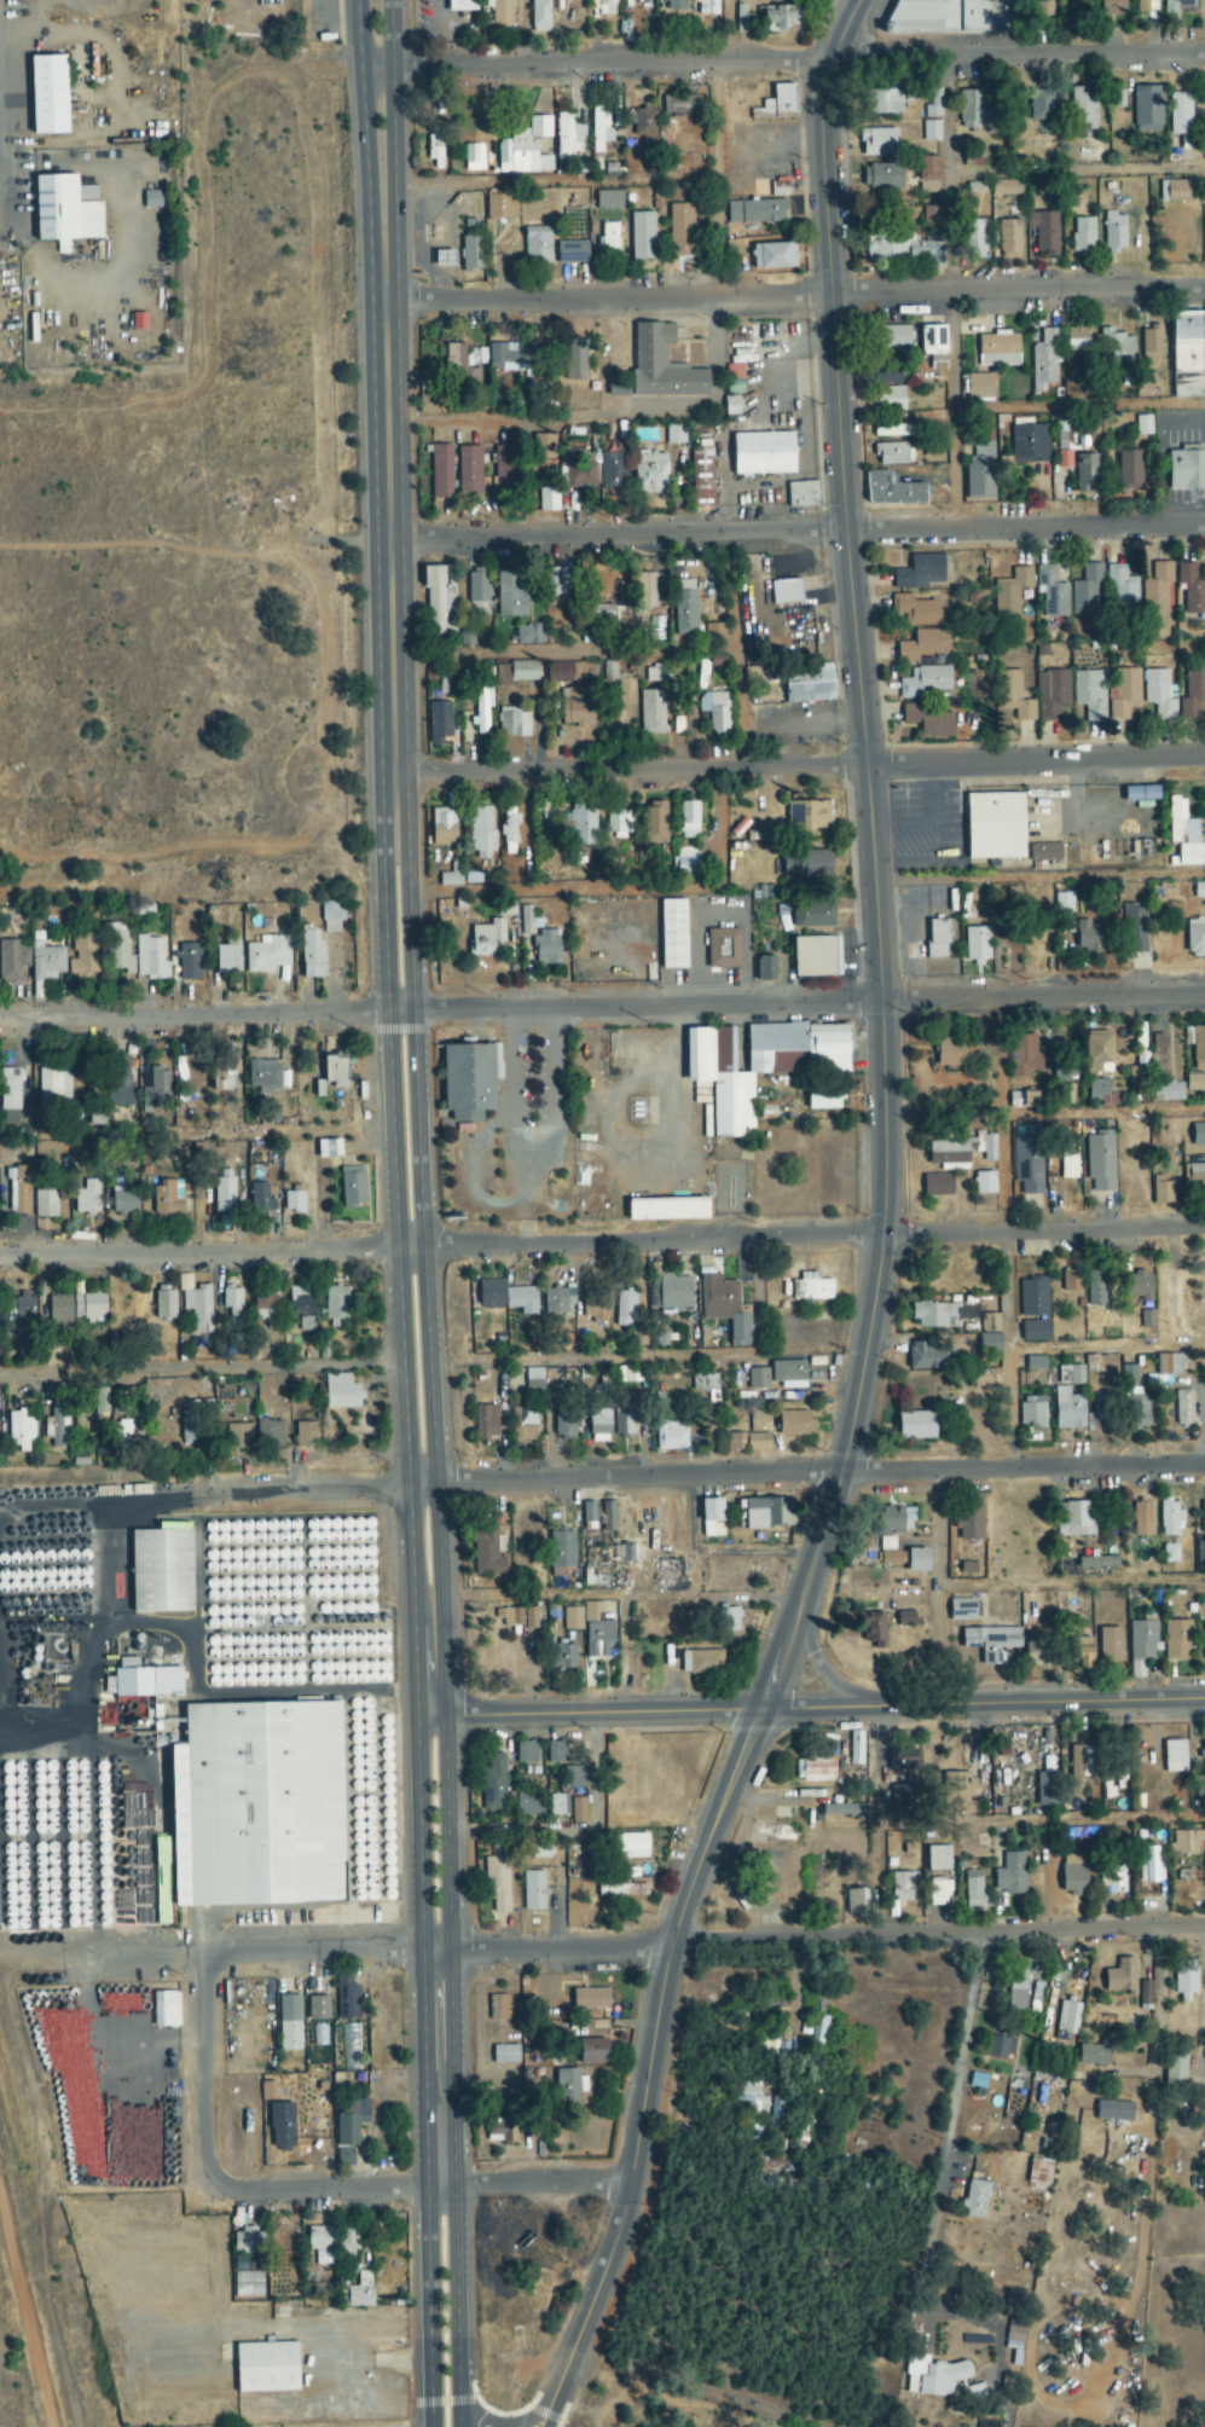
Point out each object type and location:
building: (742, 0)
building: (462, 5)
building: (676, 5)
building: (1146, 6)
building: (606, 7)
building: (706, 7)
building: (1112, 7)
building: (1180, 7)
building: (1043, 8)
building: (499, 12)
building: (540, 16)
building: (954, 16)
building: (782, 18)
road: (729, 30)
road: (783, 62)
building: (48, 95)
building: (780, 102)
building: (887, 103)
building: (933, 104)
building: (678, 105)
building: (1041, 105)
building: (1147, 109)
building: (973, 110)
building: (1083, 111)
building: (1181, 120)
building: (643, 131)
building: (931, 132)
building: (569, 138)
building: (879, 143)
building: (526, 149)
road: (394, 151)
road: (365, 152)
building: (473, 158)
road: (1077, 170)
building: (928, 175)
building: (882, 178)
road: (716, 179)
road: (555, 180)
building: (1007, 189)
building: (1177, 192)
building: (86, 195)
building: (155, 199)
building: (608, 201)
building: (500, 207)
building: (757, 213)
building: (64, 214)
building: (931, 216)
building: (679, 231)
building: (1114, 232)
building: (1044, 233)
building: (1083, 236)
building: (642, 237)
building: (974, 239)
building: (1009, 239)
building: (608, 241)
building: (537, 248)
building: (903, 249)
building: (572, 253)
building: (471, 254)
building: (774, 257)
road: (951, 292)
road: (795, 296)
building: (139, 323)
building: (893, 338)
building: (933, 341)
building: (1081, 341)
building: (1152, 344)
building: (1118, 348)
building: (998, 349)
building: (479, 352)
building: (457, 355)
building: (1188, 355)
building: (512, 359)
building: (1045, 360)
building: (577, 361)
building: (661, 366)
road: (834, 380)
building: (979, 388)
building: (891, 394)
road: (1078, 405)
road: (612, 416)
building: (902, 430)
building: (1029, 445)
building: (543, 447)
building: (763, 454)
building: (892, 454)
building: (1129, 470)
building: (469, 471)
building: (1186, 471)
building: (504, 473)
building: (614, 473)
building: (980, 473)
building: (650, 474)
building: (702, 474)
building: (1087, 474)
building: (580, 475)
building: (892, 492)
building: (803, 494)
building: (548, 500)
road: (799, 533)
building: (920, 573)
road: (393, 578)
building: (557, 584)
building: (1155, 589)
building: (650, 590)
building: (1190, 590)
building: (1122, 591)
building: (477, 592)
building: (1050, 592)
building: (1085, 592)
building: (786, 593)
building: (1010, 593)
building: (510, 597)
building: (1170, 598)
building: (438, 602)
building: (685, 608)
building: (917, 612)
building: (604, 615)
building: (716, 635)
building: (529, 636)
building: (922, 645)
road: (735, 649)
road: (566, 654)
building: (517, 673)
building: (564, 673)
building: (654, 674)
building: (926, 683)
building: (809, 685)
building: (625, 693)
building: (1125, 694)
building: (1052, 695)
building: (1090, 695)
building: (1159, 695)
building: (1193, 695)
building: (1015, 697)
building: (482, 708)
building: (578, 708)
building: (714, 712)
building: (651, 713)
building: (927, 722)
building: (439, 723)
building: (514, 725)
road: (1035, 764)
road: (631, 769)
building: (1141, 793)
building: (807, 815)
building: (689, 819)
building: (620, 822)
building: (1181, 822)
building: (655, 823)
building: (995, 826)
building: (583, 827)
building: (442, 828)
building: (482, 832)
building: (509, 834)
building: (1044, 852)
building: (1189, 855)
building: (685, 862)
building: (451, 876)
road: (1039, 877)
road: (622, 888)
building: (1199, 891)
building: (1062, 904)
building: (813, 915)
building: (331, 916)
building: (1134, 927)
building: (673, 934)
building: (1088, 937)
building: (1195, 938)
building: (487, 939)
building: (937, 939)
building: (977, 945)
building: (546, 948)
building: (117, 949)
building: (723, 949)
building: (267, 955)
building: (312, 955)
building: (83, 956)
building: (816, 956)
building: (150, 958)
building: (227, 958)
building: (12, 960)
building: (47, 961)
building: (189, 962)
building: (766, 968)
road: (602, 1006)
building: (1158, 1044)
building: (1099, 1052)
building: (950, 1053)
building: (1026, 1055)
building: (754, 1065)
building: (335, 1071)
building: (222, 1075)
building: (263, 1075)
building: (469, 1081)
building: (1194, 1082)
building: (57, 1084)
building: (115, 1084)
building: (10, 1089)
building: (156, 1090)
building: (1168, 1091)
building: (1100, 1093)
building: (824, 1099)
building: (1024, 1100)
road: (1103, 1112)
building: (1198, 1135)
building: (329, 1148)
building: (948, 1153)
building: (1101, 1162)
building: (1027, 1165)
road: (393, 1168)
road: (417, 1168)
building: (1193, 1174)
building: (985, 1183)
building: (938, 1184)
building: (17, 1188)
building: (353, 1191)
building: (1161, 1191)
building: (224, 1194)
building: (87, 1197)
building: (260, 1198)
building: (167, 1200)
building: (294, 1200)
building: (121, 1201)
building: (45, 1204)
building: (667, 1209)
road: (1004, 1230)
road: (602, 1243)
building: (1072, 1281)
building: (1140, 1285)
building: (811, 1288)
building: (1097, 1288)
building: (673, 1293)
building: (506, 1297)
building: (1033, 1298)
building: (301, 1299)
building: (558, 1302)
building: (232, 1304)
building: (164, 1305)
building: (196, 1305)
building: (593, 1307)
building: (88, 1308)
building: (336, 1308)
building: (725, 1308)
building: (58, 1309)
building: (625, 1309)
building: (22, 1315)
building: (935, 1315)
building: (306, 1323)
building: (990, 1323)
building: (1035, 1331)
building: (990, 1343)
road: (1106, 1345)
building: (927, 1355)
building: (48, 1356)
road: (653, 1359)
road: (183, 1361)
building: (1035, 1363)
building: (788, 1374)
building: (1071, 1375)
building: (533, 1379)
building: (757, 1379)
building: (341, 1392)
building: (99, 1401)
building: (1134, 1401)
building: (1068, 1409)
building: (1097, 1409)
building: (1183, 1409)
building: (1032, 1412)
building: (486, 1421)
building: (622, 1424)
building: (794, 1424)
building: (522, 1425)
building: (598, 1425)
building: (916, 1425)
building: (566, 1426)
building: (56, 1429)
building: (192, 1429)
building: (19, 1430)
building: (270, 1431)
building: (126, 1435)
building: (306, 1435)
building: (237, 1436)
building: (671, 1436)
building: (748, 1442)
road: (708, 1475)
road: (105, 1496)
building: (589, 1512)
building: (769, 1513)
building: (608, 1516)
building: (1203, 1517)
building: (712, 1518)
building: (1170, 1518)
building: (894, 1519)
building: (1074, 1519)
building: (1141, 1519)
building: (971, 1524)
road: (438, 1545)
road: (410, 1546)
building: (562, 1550)
building: (622, 1553)
building: (891, 1553)
building: (1170, 1553)
building: (487, 1554)
building: (1200, 1554)
building: (917, 1560)
building: (1099, 1562)
building: (161, 1571)
road: (1072, 1583)
road: (938, 1587)
road: (619, 1594)
building: (962, 1610)
road: (793, 1611)
building: (509, 1617)
building: (529, 1618)
building: (572, 1620)
building: (728, 1620)
building: (905, 1620)
building: (874, 1628)
building: (596, 1632)
building: (1177, 1639)
building: (1142, 1640)
building: (991, 1643)
building: (1204, 1643)
building: (1110, 1644)
road: (812, 1652)
building: (1038, 1652)
road: (622, 1653)
building: (1082, 1653)
building: (563, 1657)
road: (428, 1658)
building: (701, 1662)
building: (147, 1682)
road: (1036, 1703)
road: (812, 1708)
road: (593, 1713)
building: (856, 1748)
building: (1201, 1750)
building: (526, 1753)
building: (556, 1753)
building: (1174, 1756)
building: (1078, 1768)
building: (815, 1769)
building: (574, 1778)
building: (493, 1784)
building: (1199, 1786)
building: (1044, 1790)
building: (958, 1795)
building: (528, 1805)
building: (257, 1806)
building: (558, 1806)
building: (578, 1811)
building: (844, 1811)
road: (1007, 1819)
road: (446, 1831)
road: (418, 1832)
road: (579, 1832)
building: (1186, 1843)
building: (631, 1847)
building: (538, 1852)
building: (938, 1859)
building: (1149, 1865)
building: (1010, 1875)
building: (1073, 1875)
building: (1114, 1879)
building: (497, 1884)
building: (902, 1887)
building: (533, 1892)
building: (973, 1892)
building: (940, 1894)
building: (856, 1902)
road: (939, 1935)
road: (357, 1951)
building: (1120, 1976)
building: (1184, 1982)
building: (1016, 1989)
building: (1145, 1992)
building: (347, 1999)
building: (590, 1999)
building: (112, 2008)
building: (497, 2008)
building: (318, 2009)
building: (166, 2010)
building: (1067, 2022)
building: (289, 2023)
building: (57, 2047)
building: (596, 2047)
building: (998, 2047)
building: (505, 2055)
building: (1095, 2055)
road: (1199, 2061)
building: (1177, 2066)
road: (438, 2069)
road: (207, 2081)
building: (978, 2081)
building: (570, 2086)
building: (268, 2092)
building: (751, 2097)
building: (514, 2101)
road: (955, 2101)
building: (1114, 2112)
building: (351, 2122)
building: (282, 2126)
building: (500, 2131)
building: (344, 2157)
building: (1039, 2172)
road: (343, 2190)
building: (975, 2200)
building: (347, 2237)
building: (319, 2238)
building: (248, 2242)
building: (283, 2253)
railway: (39, 2282)
building: (360, 2293)
building: (1014, 2299)
road: (428, 2305)
road: (456, 2305)
building: (266, 2368)
building: (933, 2377)
road: (546, 2410)

